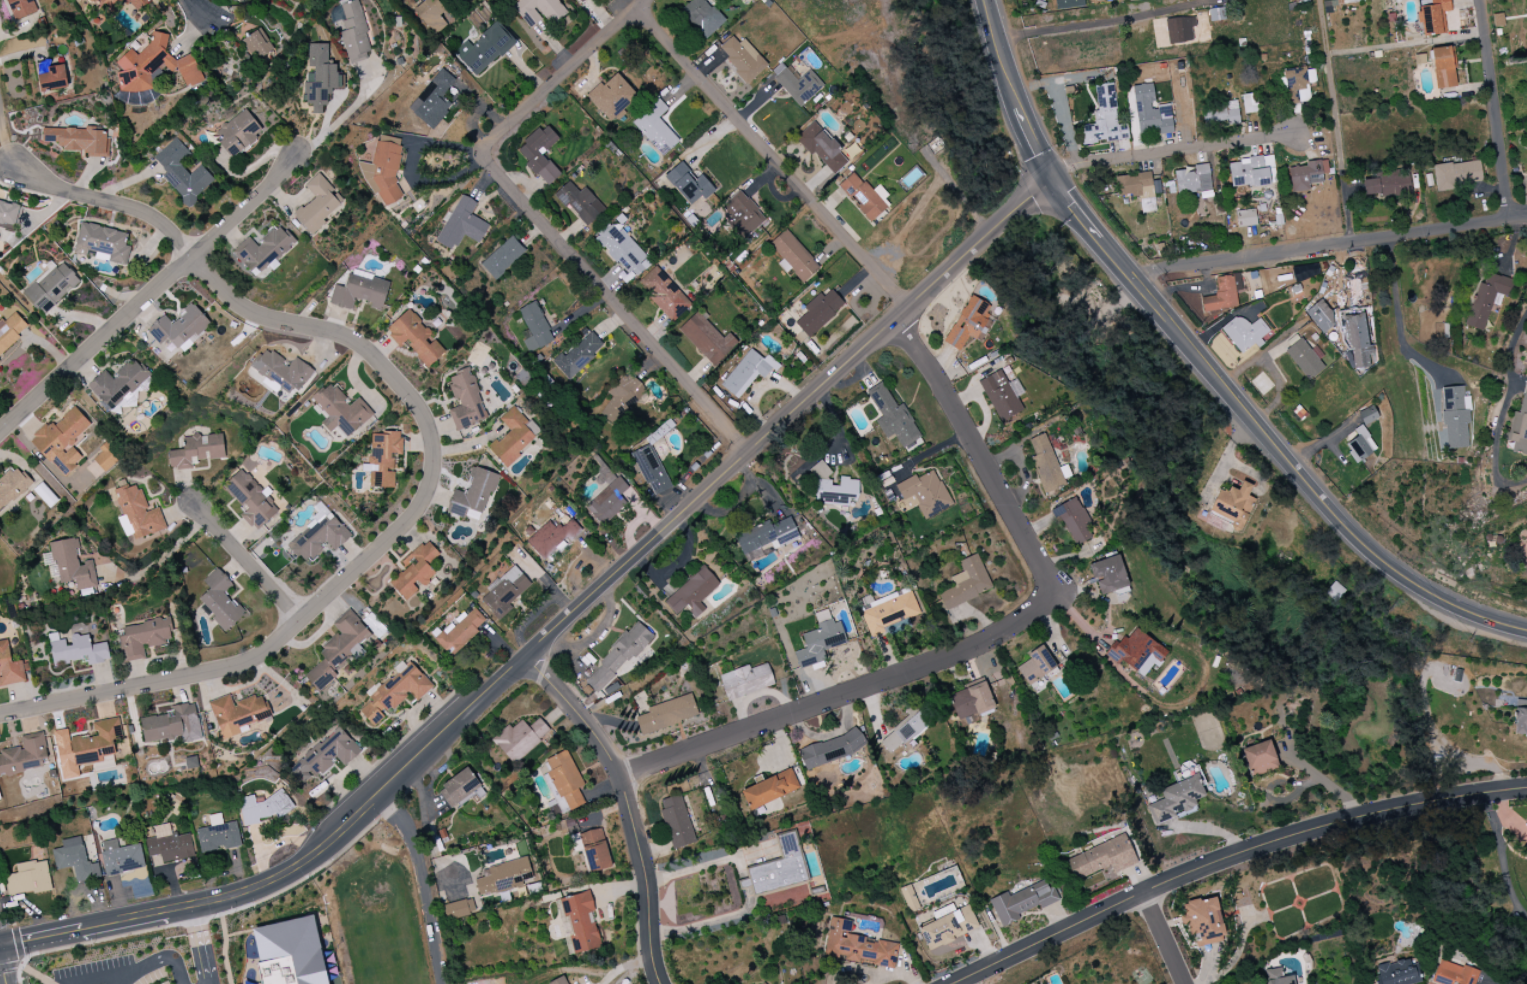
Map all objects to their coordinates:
building: (91, 0)
building: (231, 0)
building: (582, 1)
building: (105, 4)
building: (136, 4)
building: (1068, 4)
building: (20, 8)
road: (199, 10)
building: (539, 11)
building: (1216, 14)
building: (431, 15)
building: (702, 16)
building: (1432, 16)
building: (1498, 20)
road: (1077, 26)
building: (1180, 29)
building: (354, 34)
building: (258, 44)
building: (484, 49)
road: (998, 54)
building: (742, 58)
building: (153, 66)
building: (1443, 67)
building: (52, 77)
building: (320, 78)
building: (1296, 82)
building: (797, 84)
building: (612, 96)
building: (433, 100)
building: (1250, 103)
road: (1495, 110)
building: (1150, 111)
building: (1220, 114)
road: (346, 118)
building: (1105, 119)
road: (1337, 122)
building: (656, 128)
building: (238, 133)
building: (79, 140)
road: (1032, 144)
building: (821, 147)
road: (1170, 150)
road: (8, 151)
building: (540, 154)
road: (772, 157)
building: (383, 169)
building: (182, 172)
building: (1252, 172)
building: (1457, 174)
building: (1307, 175)
traffic signals: (1051, 179)
building: (1192, 179)
building: (689, 184)
building: (1388, 184)
building: (1135, 185)
building: (864, 196)
building: (580, 202)
building: (318, 204)
road: (111, 205)
road: (1075, 209)
building: (9, 214)
building: (742, 215)
building: (1246, 218)
road: (545, 223)
building: (461, 225)
building: (104, 243)
road: (1328, 247)
building: (263, 250)
building: (623, 251)
building: (793, 256)
building: (503, 257)
building: (1305, 272)
building: (50, 288)
building: (360, 291)
building: (664, 293)
building: (1223, 294)
road: (149, 296)
building: (1486, 298)
building: (819, 312)
building: (1320, 317)
road: (1398, 320)
building: (969, 324)
building: (535, 327)
building: (180, 328)
building: (11, 331)
road: (335, 331)
building: (1244, 333)
building: (415, 337)
building: (707, 339)
building: (1357, 342)
road: (1514, 342)
building: (578, 356)
building: (1304, 359)
building: (282, 371)
building: (748, 372)
road: (1515, 381)
building: (118, 384)
building: (1002, 395)
building: (622, 398)
building: (465, 401)
building: (341, 411)
road: (787, 417)
building: (893, 417)
building: (1455, 417)
building: (1519, 427)
building: (514, 436)
building: (62, 441)
road: (1495, 444)
building: (1360, 445)
building: (196, 451)
road: (978, 452)
building: (105, 458)
building: (384, 458)
road: (1291, 463)
building: (1045, 464)
building: (652, 473)
building: (12, 485)
road: (760, 485)
building: (833, 487)
building: (474, 493)
building: (923, 493)
building: (250, 499)
building: (608, 501)
road: (731, 505)
building: (1233, 505)
building: (136, 513)
building: (1074, 520)
building: (552, 537)
building: (320, 538)
road: (248, 562)
road: (158, 563)
building: (72, 565)
building: (693, 569)
building: (416, 571)
building: (1109, 575)
building: (966, 583)
building: (505, 591)
building: (693, 593)
building: (220, 600)
building: (889, 613)
building: (374, 626)
building: (460, 631)
building: (143, 637)
building: (820, 641)
building: (337, 649)
building: (77, 650)
building: (1137, 652)
road: (260, 658)
building: (618, 658)
building: (1036, 665)
building: (9, 667)
building: (746, 680)
building: (395, 692)
road: (842, 694)
building: (972, 703)
building: (237, 714)
building: (667, 714)
building: (1520, 717)
building: (173, 724)
building: (903, 732)
building: (521, 739)
building: (86, 748)
building: (831, 750)
building: (24, 756)
building: (325, 756)
building: (1259, 758)
road: (388, 787)
building: (459, 788)
building: (769, 789)
building: (1176, 800)
road: (625, 804)
building: (264, 808)
building: (677, 822)
building: (218, 835)
building: (170, 844)
building: (595, 850)
building: (121, 858)
building: (1101, 858)
road: (1233, 859)
road: (1502, 859)
building: (75, 860)
road: (706, 866)
building: (779, 868)
road: (742, 869)
building: (503, 877)
building: (28, 879)
road: (421, 883)
road: (747, 885)
park: (371, 892)
building: (909, 898)
building: (1021, 902)
road: (196, 903)
building: (459, 909)
road: (124, 919)
building: (578, 921)
building: (1203, 921)
road: (710, 924)
building: (949, 928)
park: (363, 934)
road: (44, 936)
road: (1164, 939)
road: (199, 944)
building: (857, 946)
building: (290, 953)
parking lot: (119, 966)
road: (3, 967)
road: (135, 971)
building: (1396, 972)
building: (1452, 974)
building: (1277, 977)
road: (1515, 978)
building: (560, 980)
road: (964, 982)
building: (749, 983)
building: (763, 983)

